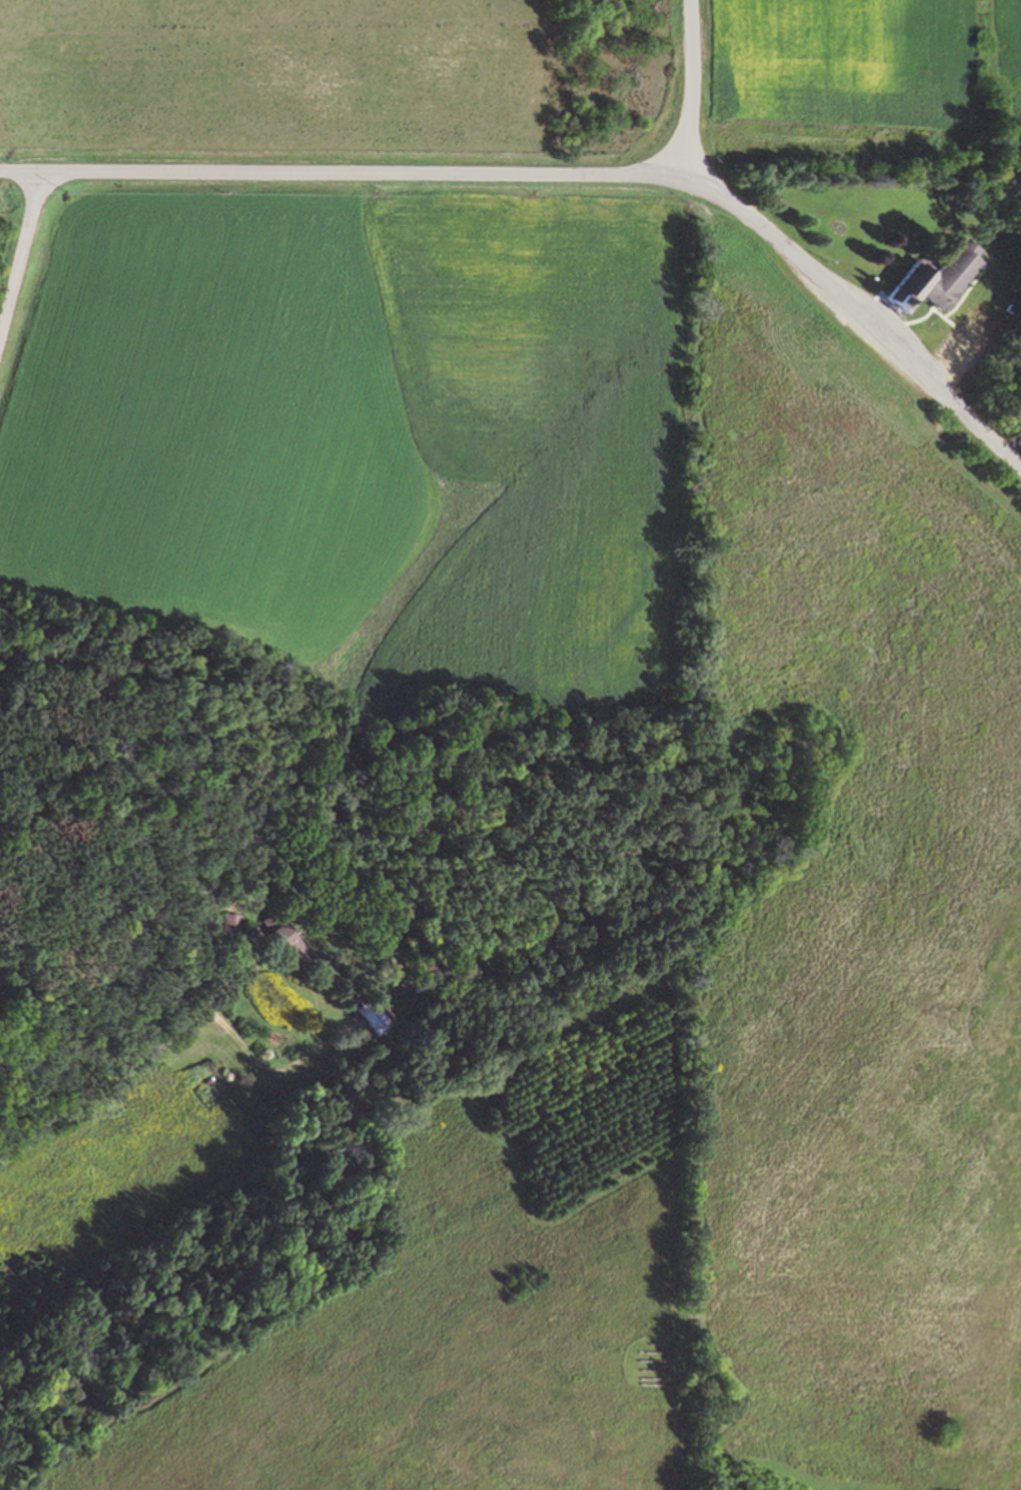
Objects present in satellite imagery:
road: (688, 90)
road: (565, 175)
road: (21, 255)
building: (934, 277)
parking lot: (963, 331)
road: (968, 350)
road: (1012, 444)
building: (231, 919)
building: (284, 934)
building: (406, 986)
building: (374, 1012)
road: (134, 1065)
road: (264, 1066)

